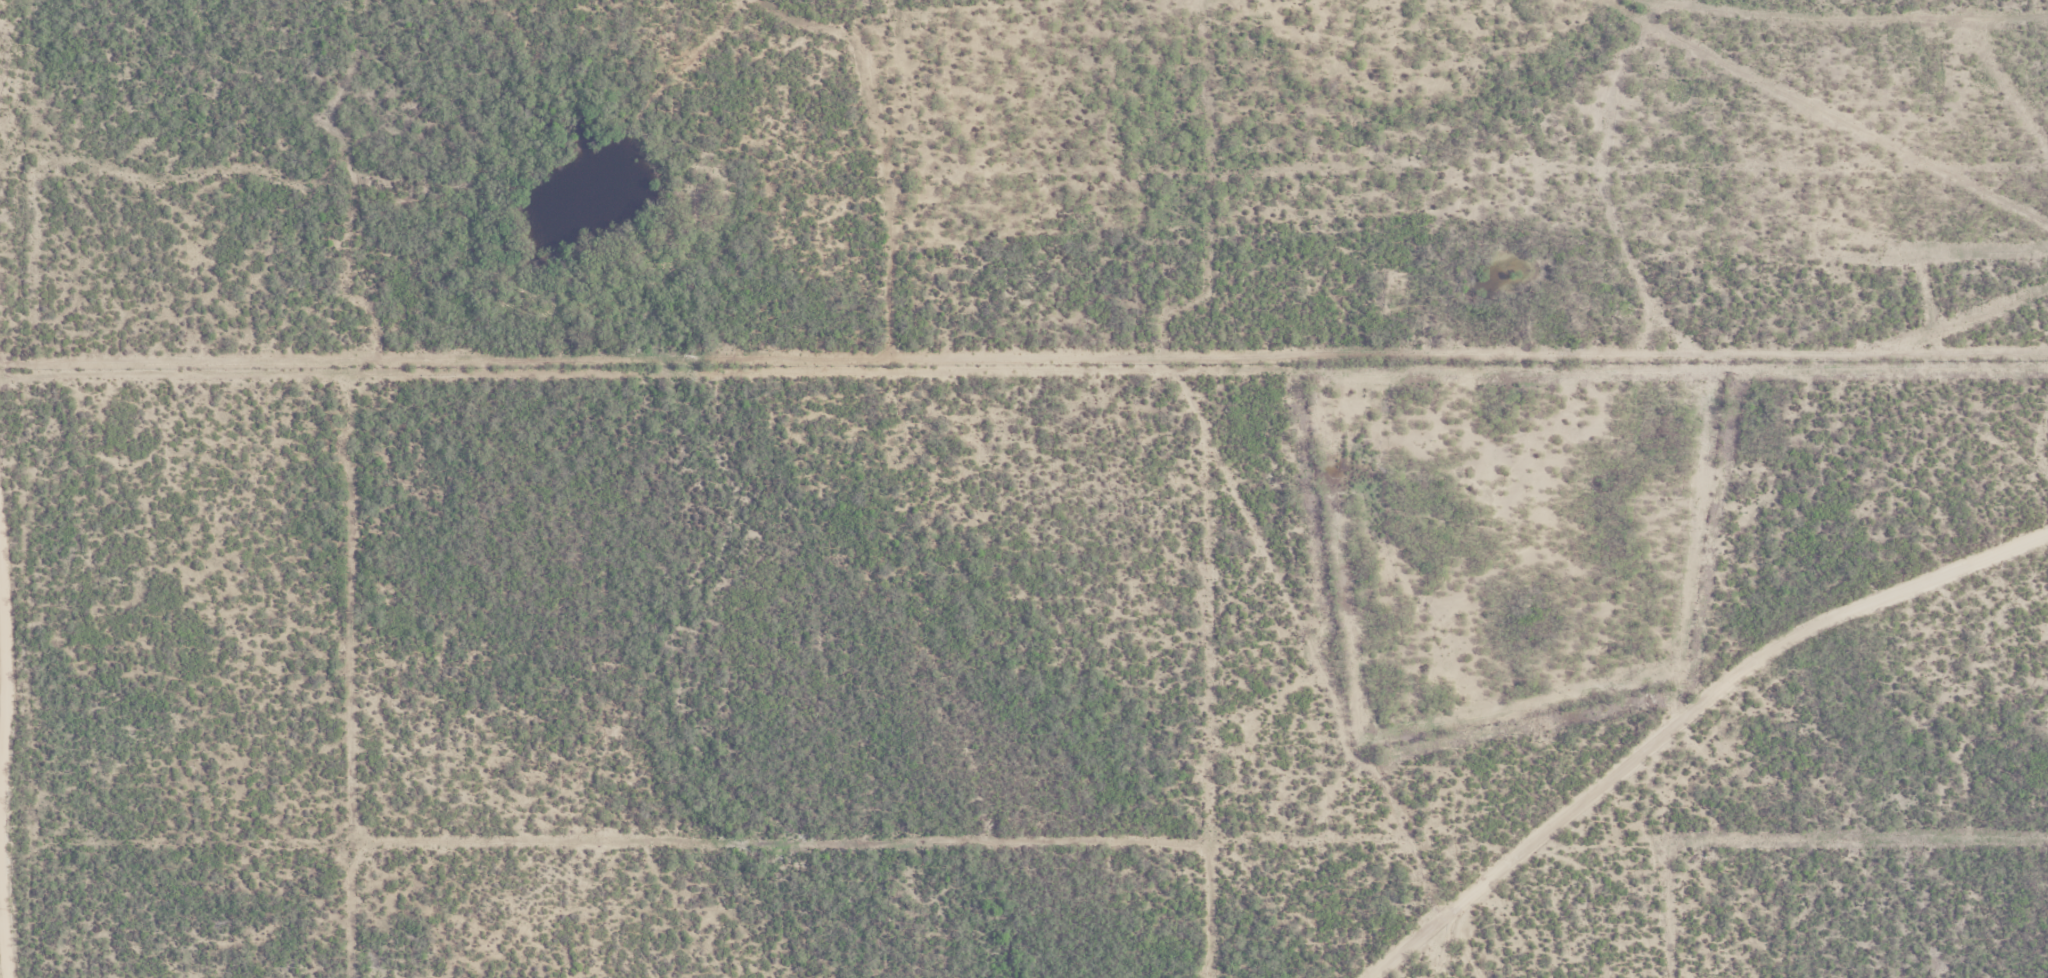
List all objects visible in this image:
road: (1, 709)
road: (1684, 713)
road: (5, 902)

